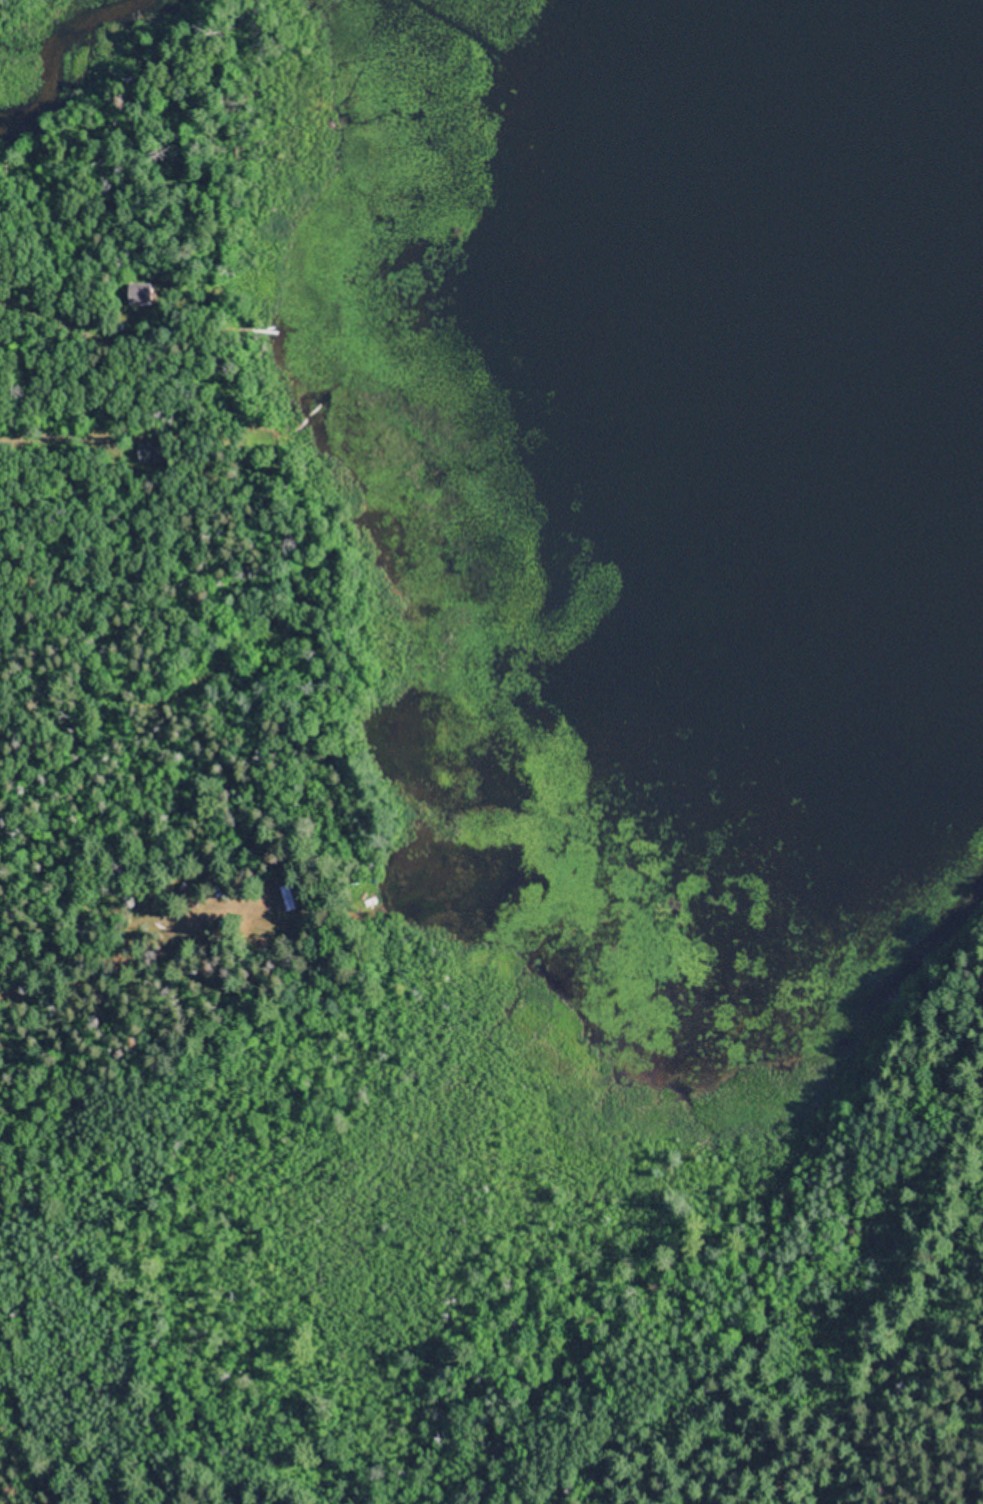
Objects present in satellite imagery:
building: (146, 293)
building: (153, 450)
building: (281, 882)
building: (194, 895)
road: (112, 999)
road: (882, 1304)
road: (80, 1421)

